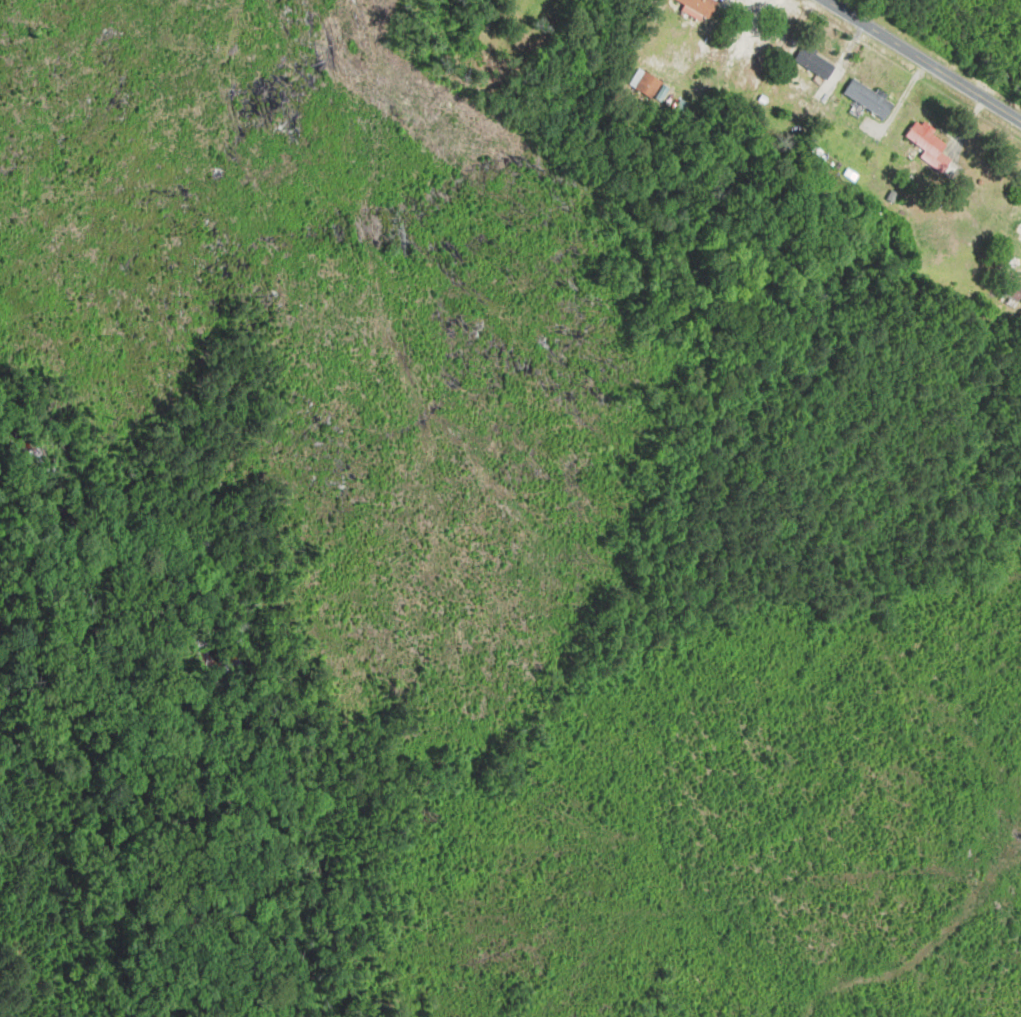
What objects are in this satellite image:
building: (702, 7)
road: (923, 60)
building: (816, 64)
building: (645, 84)
building: (925, 139)
building: (1014, 291)

